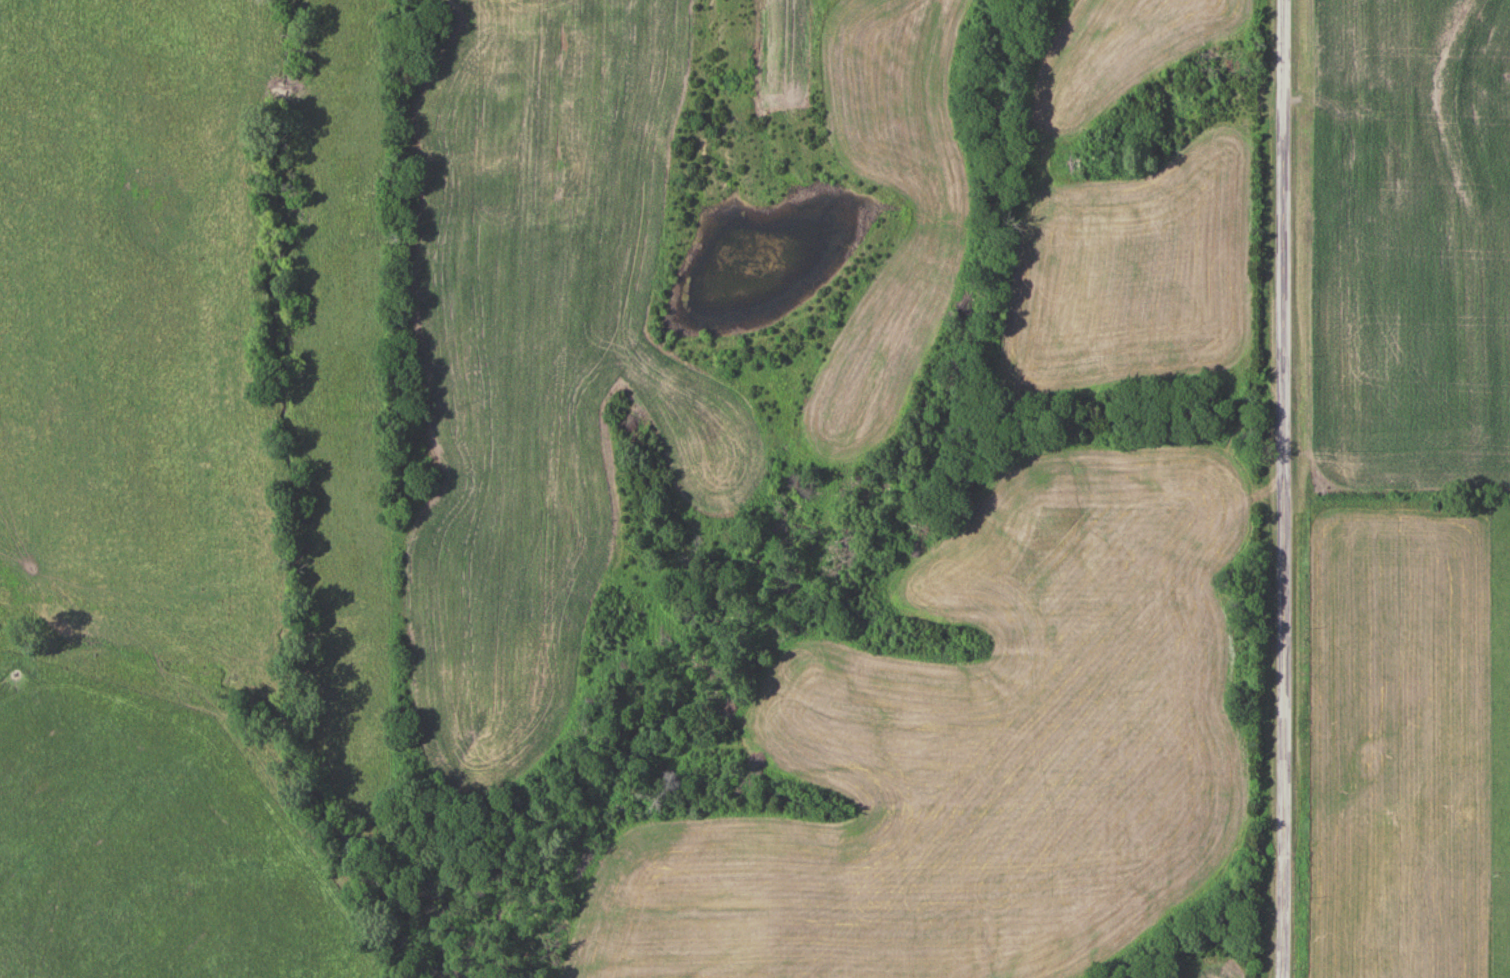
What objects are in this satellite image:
road: (1289, 489)

